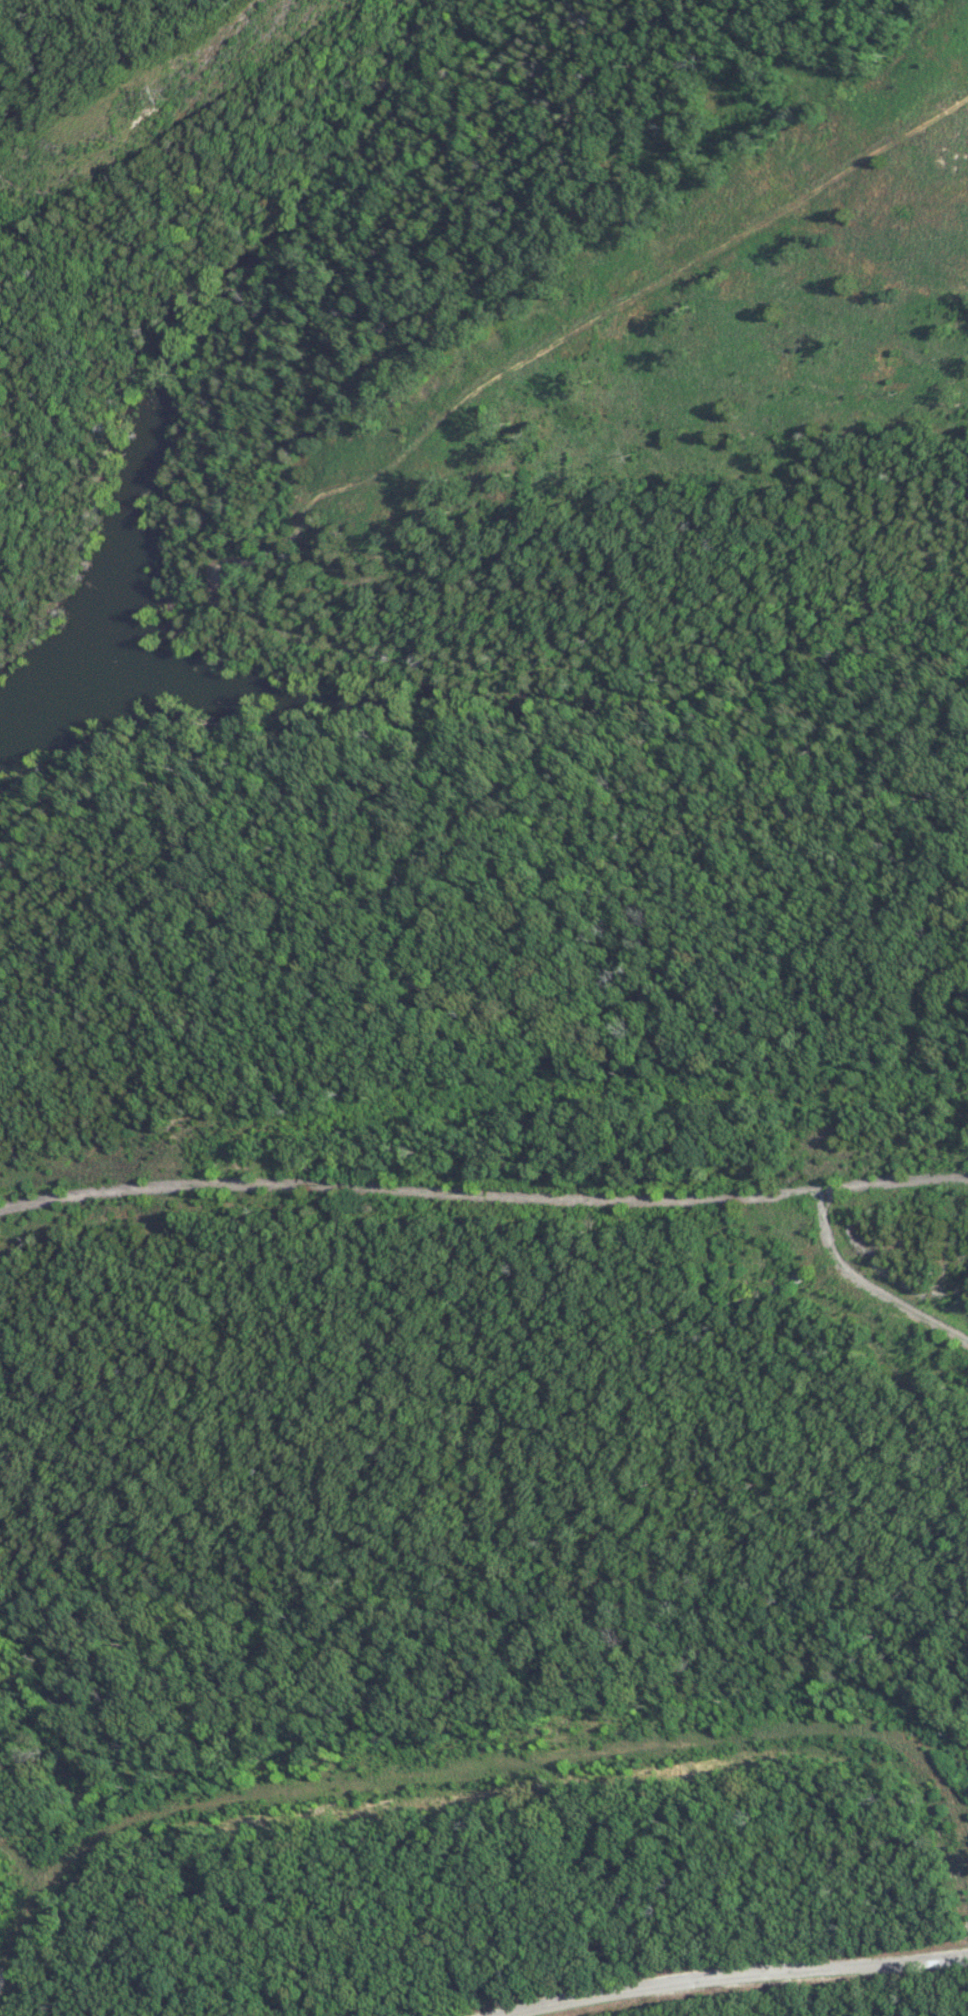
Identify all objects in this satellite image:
power tower: (164, 93)
road: (868, 1285)
road: (734, 1975)

